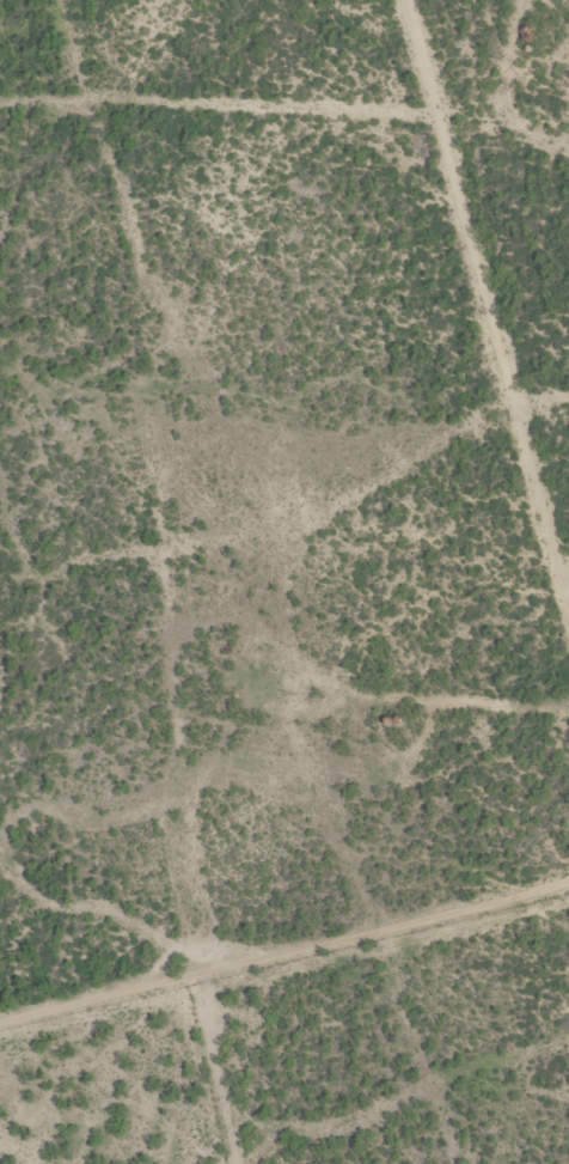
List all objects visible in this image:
road: (283, 951)

